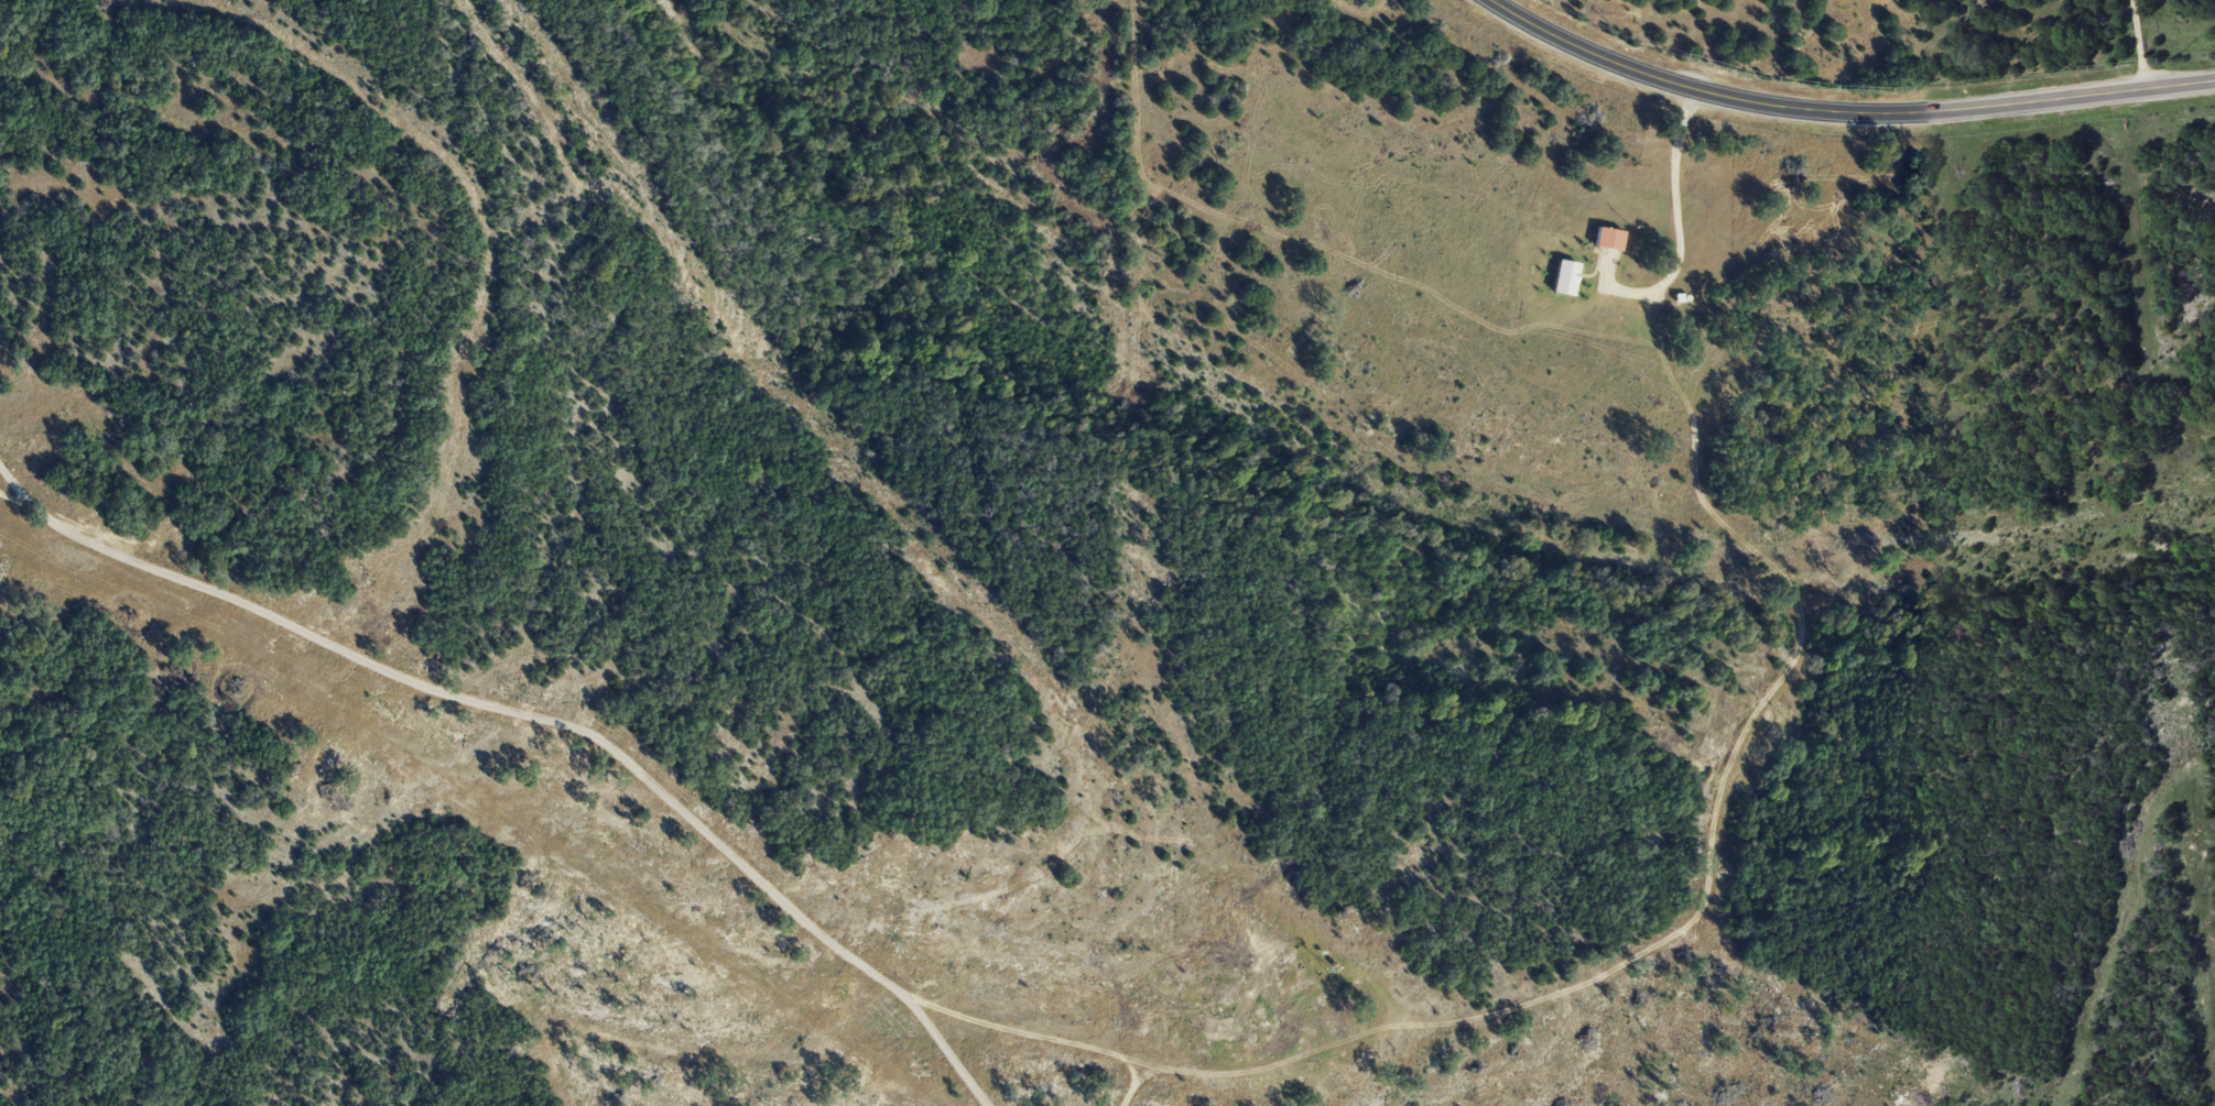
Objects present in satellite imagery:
road: (2139, 43)
road: (1844, 111)
road: (1675, 210)
building: (1607, 238)
building: (1563, 276)
road: (540, 718)
building: (1336, 1021)
road: (1024, 1029)
building: (1219, 1031)
road: (1326, 1043)
road: (1132, 1086)

